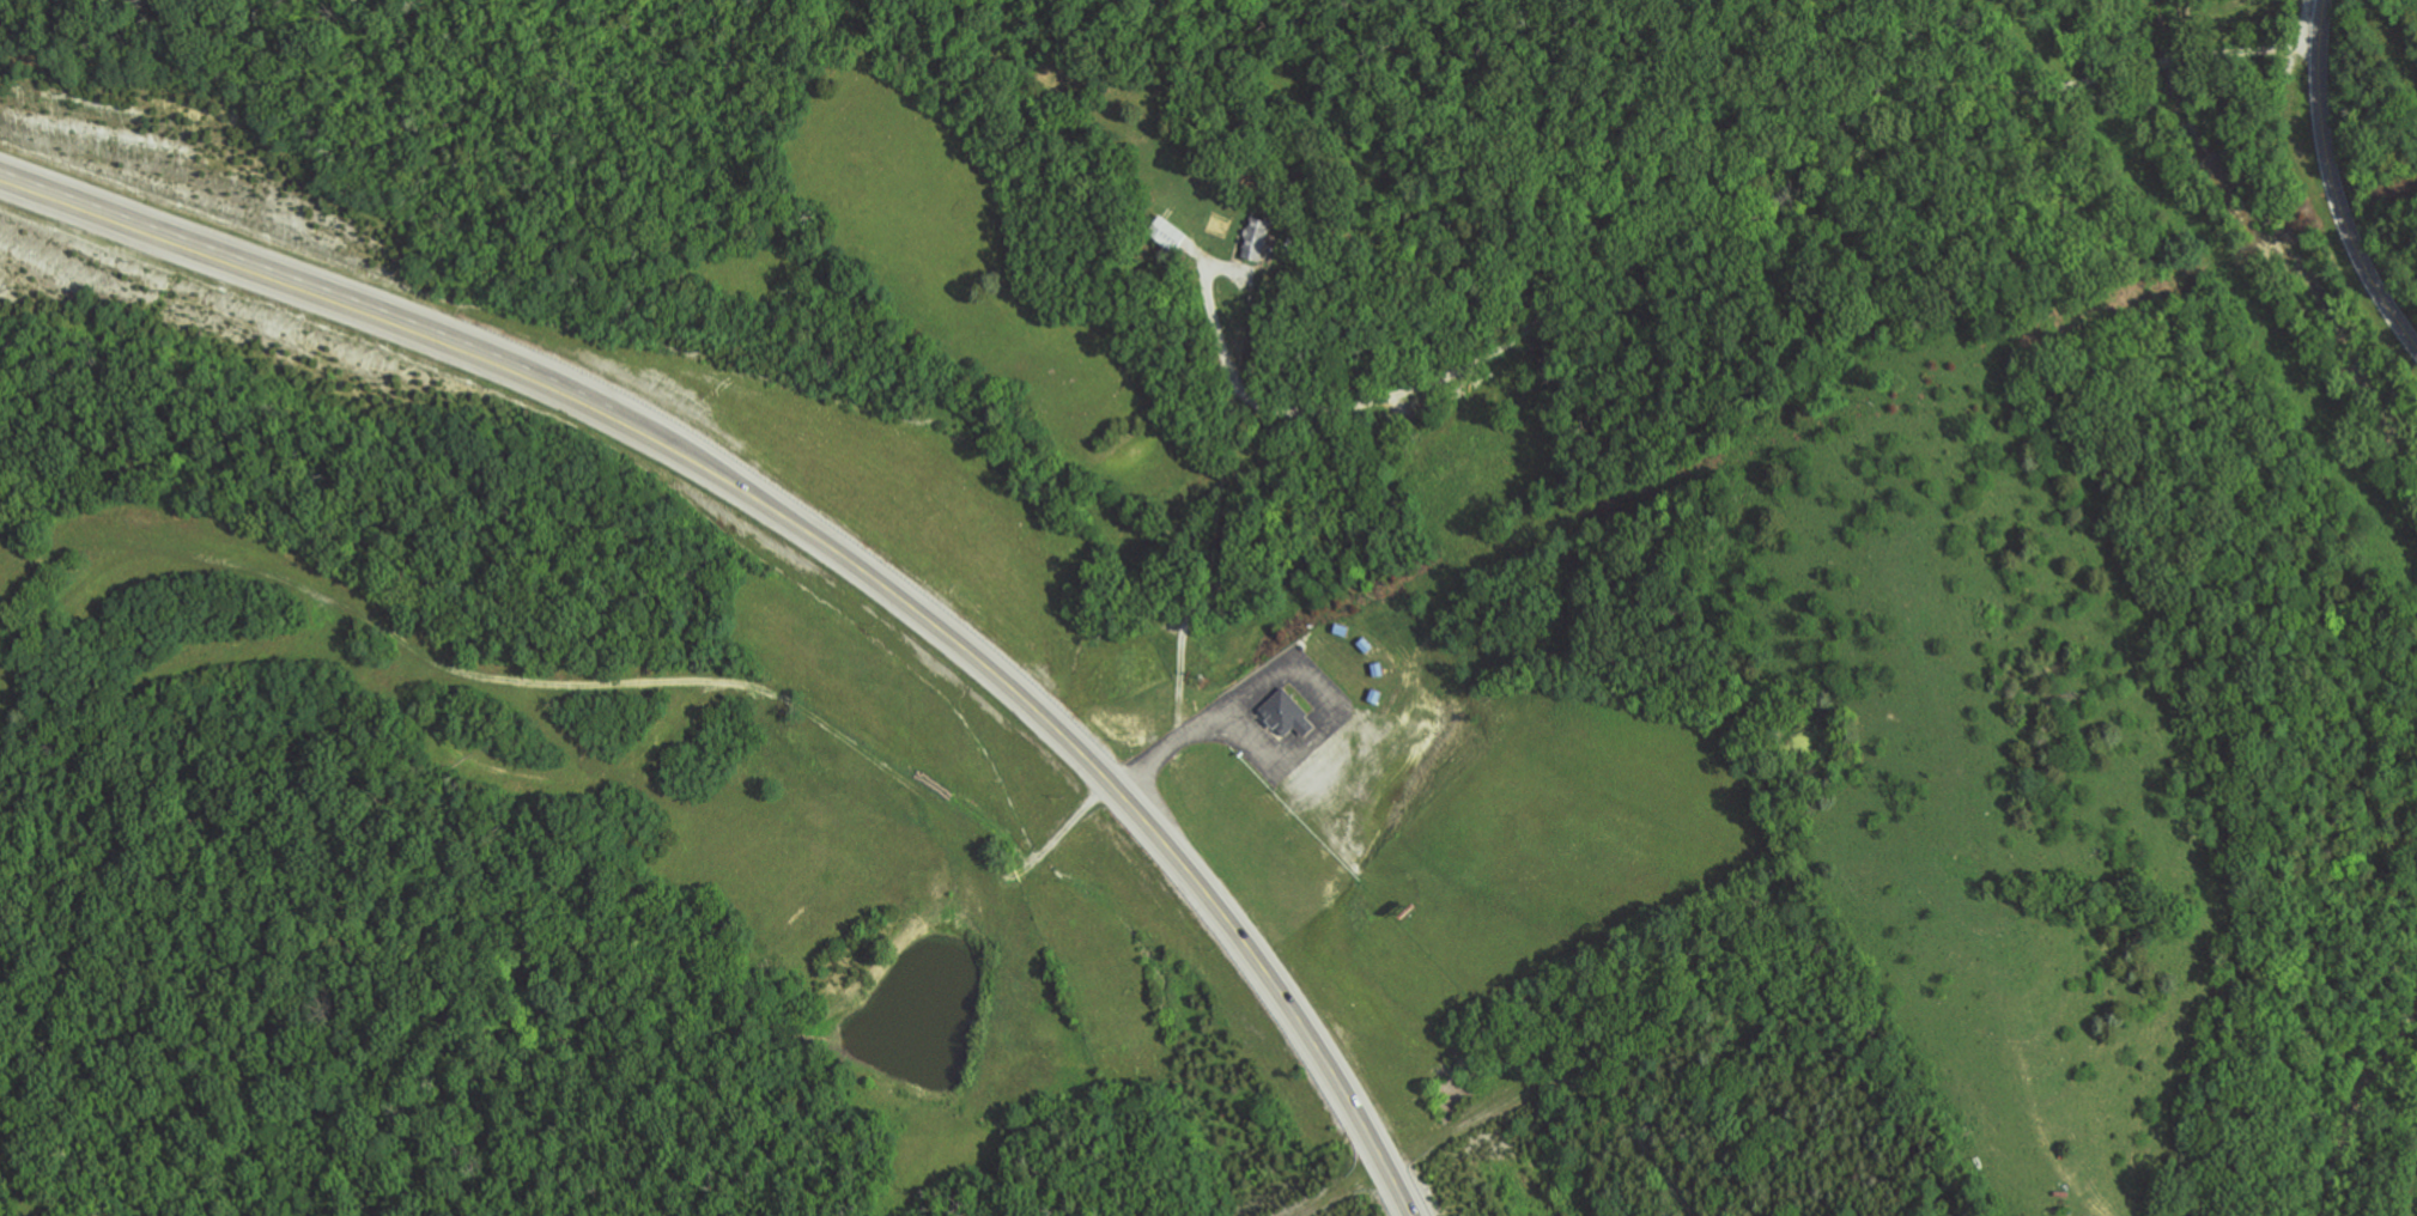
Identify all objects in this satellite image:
road: (2248, 49)
road: (2164, 61)
building: (1219, 163)
road: (2332, 183)
building: (1168, 232)
building: (1256, 237)
building: (1292, 247)
road: (1613, 256)
road: (1228, 269)
road: (311, 288)
road: (1261, 549)
road: (166, 551)
road: (974, 655)
road: (746, 688)
road: (1344, 707)
road: (1326, 710)
building: (1285, 712)
road: (1305, 729)
road: (1289, 744)
road: (1167, 747)
road: (1347, 1090)
road: (1416, 1149)

